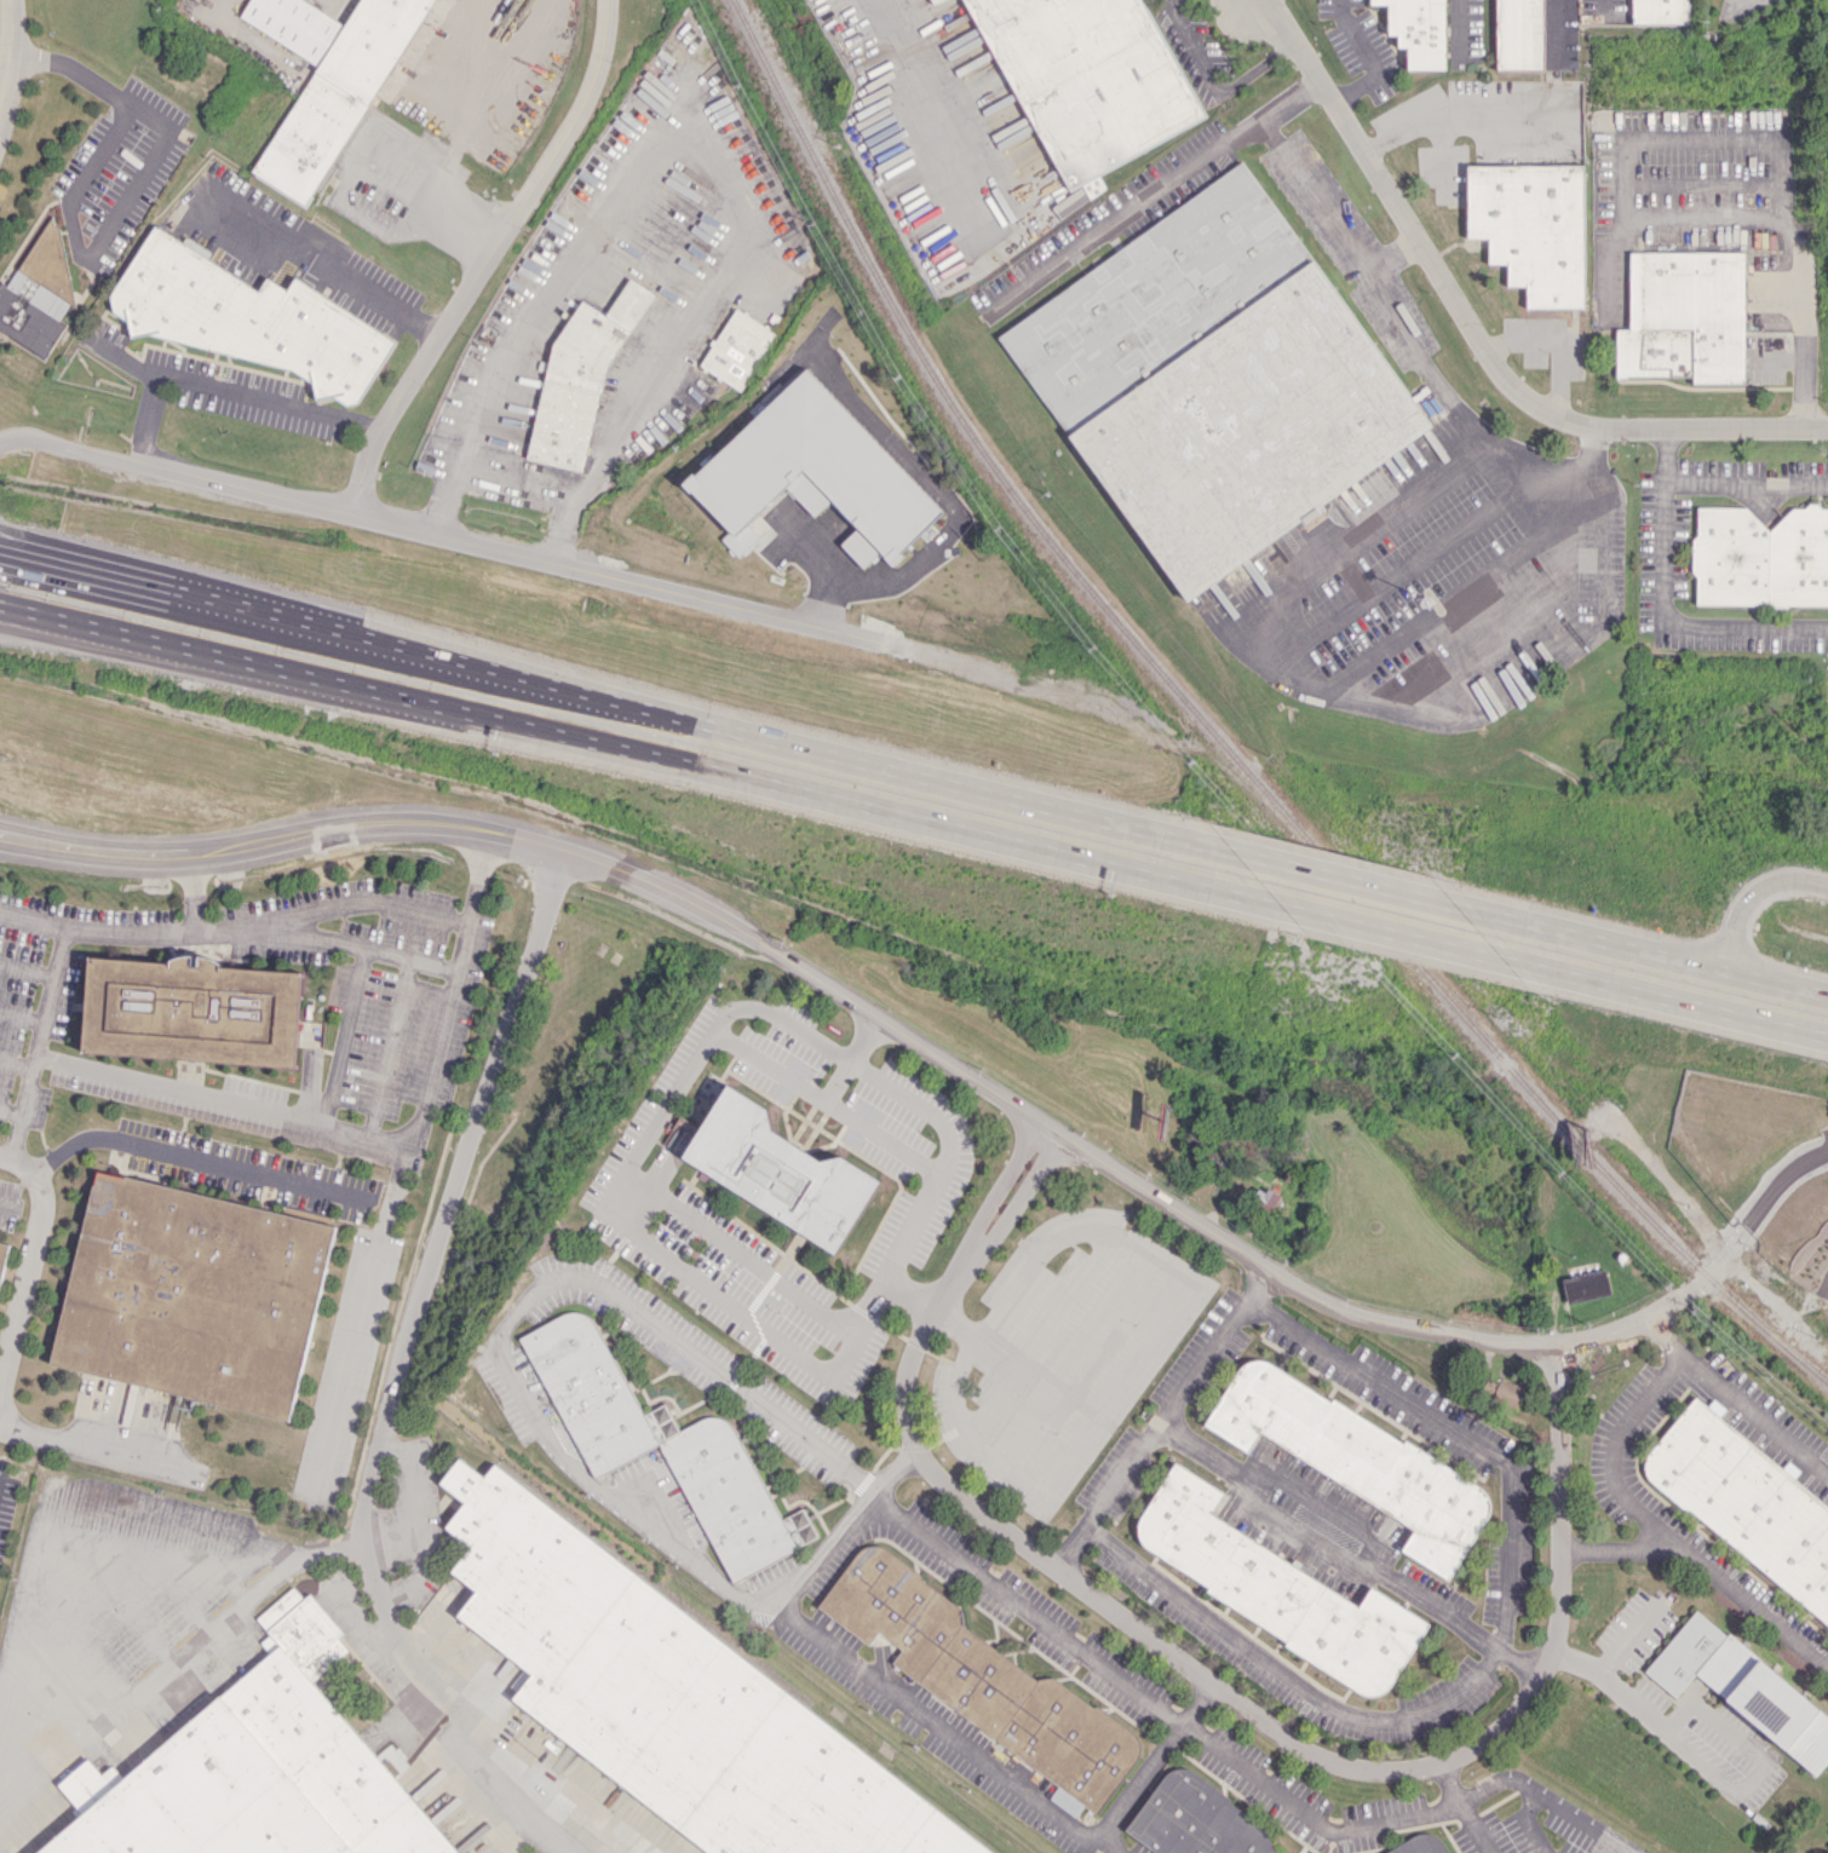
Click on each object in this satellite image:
road: (1211, 0)
building: (936, 1)
road: (1738, 1)
building: (1659, 11)
road: (1567, 25)
building: (1416, 30)
road: (1456, 30)
building: (1518, 34)
road: (6, 38)
road: (1367, 58)
building: (1087, 79)
road: (1212, 81)
building: (327, 82)
road: (925, 107)
road: (1450, 114)
road: (460, 131)
road: (1767, 140)
road: (697, 149)
road: (397, 163)
building: (1093, 185)
road: (130, 192)
road: (1136, 205)
building: (1530, 228)
road: (330, 249)
road: (1386, 255)
road: (489, 258)
building: (30, 312)
building: (247, 317)
building: (1684, 317)
road: (1470, 333)
building: (736, 349)
building: (580, 376)
building: (1213, 381)
road: (235, 393)
road: (149, 420)
building: (812, 472)
road: (1514, 478)
road: (1746, 479)
road: (510, 491)
road: (421, 528)
road: (17, 542)
road: (1339, 546)
building: (1760, 557)
road: (1662, 605)
road: (22, 626)
road: (611, 697)
railway: (1218, 737)
road: (640, 759)
road: (1339, 871)
road: (190, 892)
road: (1761, 904)
road: (33, 917)
road: (265, 919)
road: (1390, 928)
road: (338, 945)
road: (1642, 945)
road: (1662, 991)
building: (190, 1011)
road: (889, 1020)
road: (38, 1030)
road: (433, 1031)
road: (339, 1036)
road: (386, 1047)
road: (837, 1081)
road: (217, 1099)
road: (826, 1103)
road: (12, 1140)
road: (179, 1150)
road: (949, 1151)
building: (777, 1169)
building: (1265, 1198)
road: (1766, 1199)
road: (2, 1207)
road: (987, 1210)
road: (614, 1212)
road: (1001, 1220)
road: (431, 1241)
building: (1, 1250)
road: (738, 1250)
road: (24, 1265)
building: (1586, 1285)
building: (190, 1295)
road: (343, 1362)
road: (1126, 1371)
building: (1507, 1392)
road: (1734, 1399)
road: (1462, 1432)
building: (654, 1437)
road: (94, 1448)
road: (1613, 1454)
building: (1358, 1460)
road: (892, 1468)
road: (584, 1477)
building: (1746, 1501)
road: (1265, 1506)
road: (54, 1543)
road: (1068, 1546)
road: (818, 1553)
road: (257, 1558)
road: (1707, 1567)
building: (1278, 1588)
road: (1231, 1633)
road: (1638, 1636)
road: (183, 1652)
building: (983, 1678)
building: (1742, 1687)
building: (671, 1699)
road: (1194, 1702)
road: (1288, 1737)
road: (496, 1750)
road: (1232, 1760)
road: (1720, 1765)
building: (255, 1771)
road: (1137, 1780)
building: (1065, 1801)
road: (1461, 1807)
building: (1196, 1819)
road: (1525, 1823)
building: (1420, 1845)

